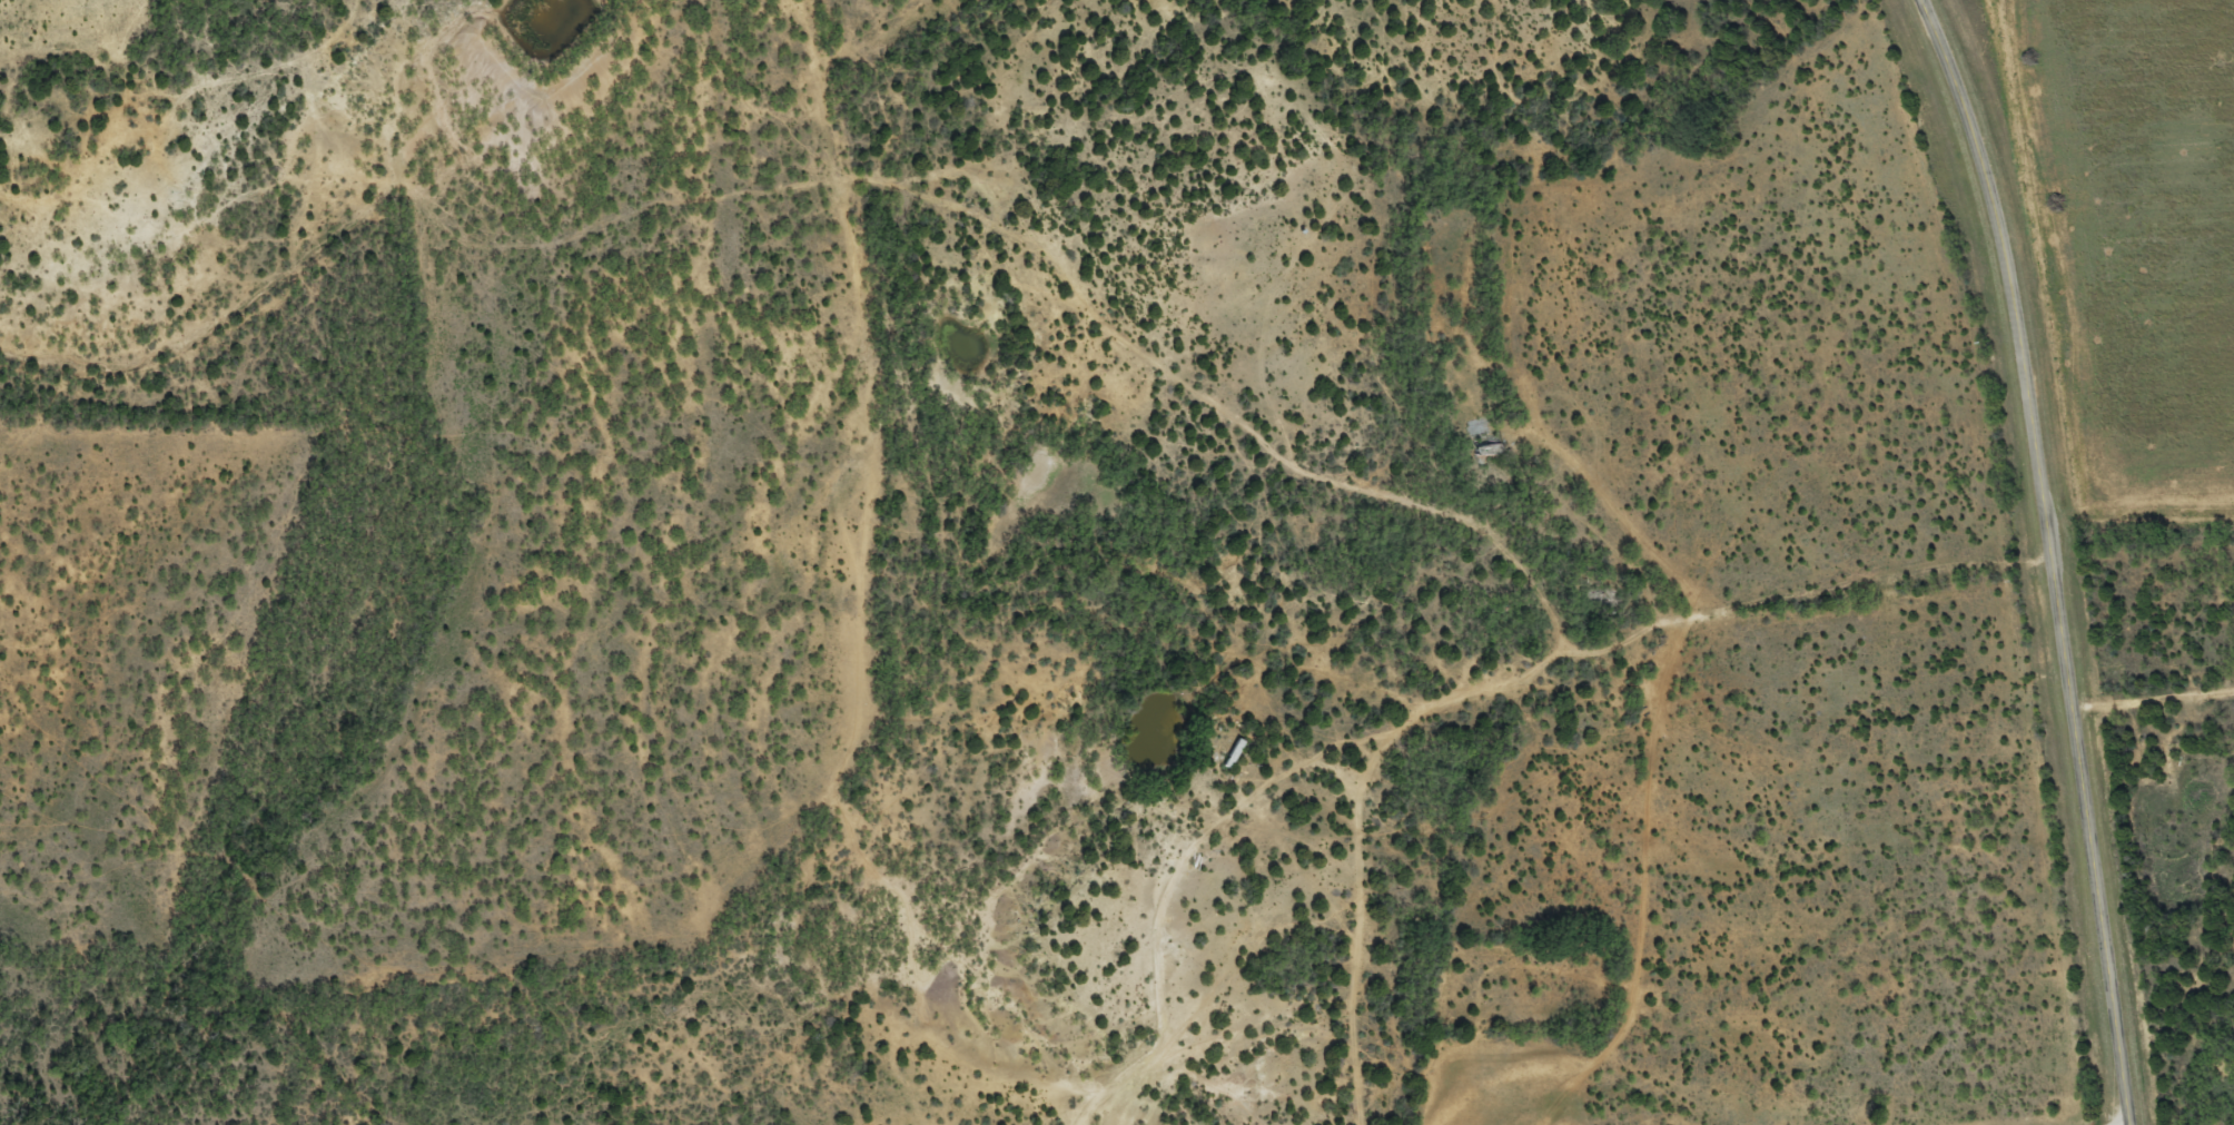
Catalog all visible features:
building: (1483, 444)
road: (1470, 540)
road: (2054, 556)
road: (2147, 732)
road: (1334, 786)

